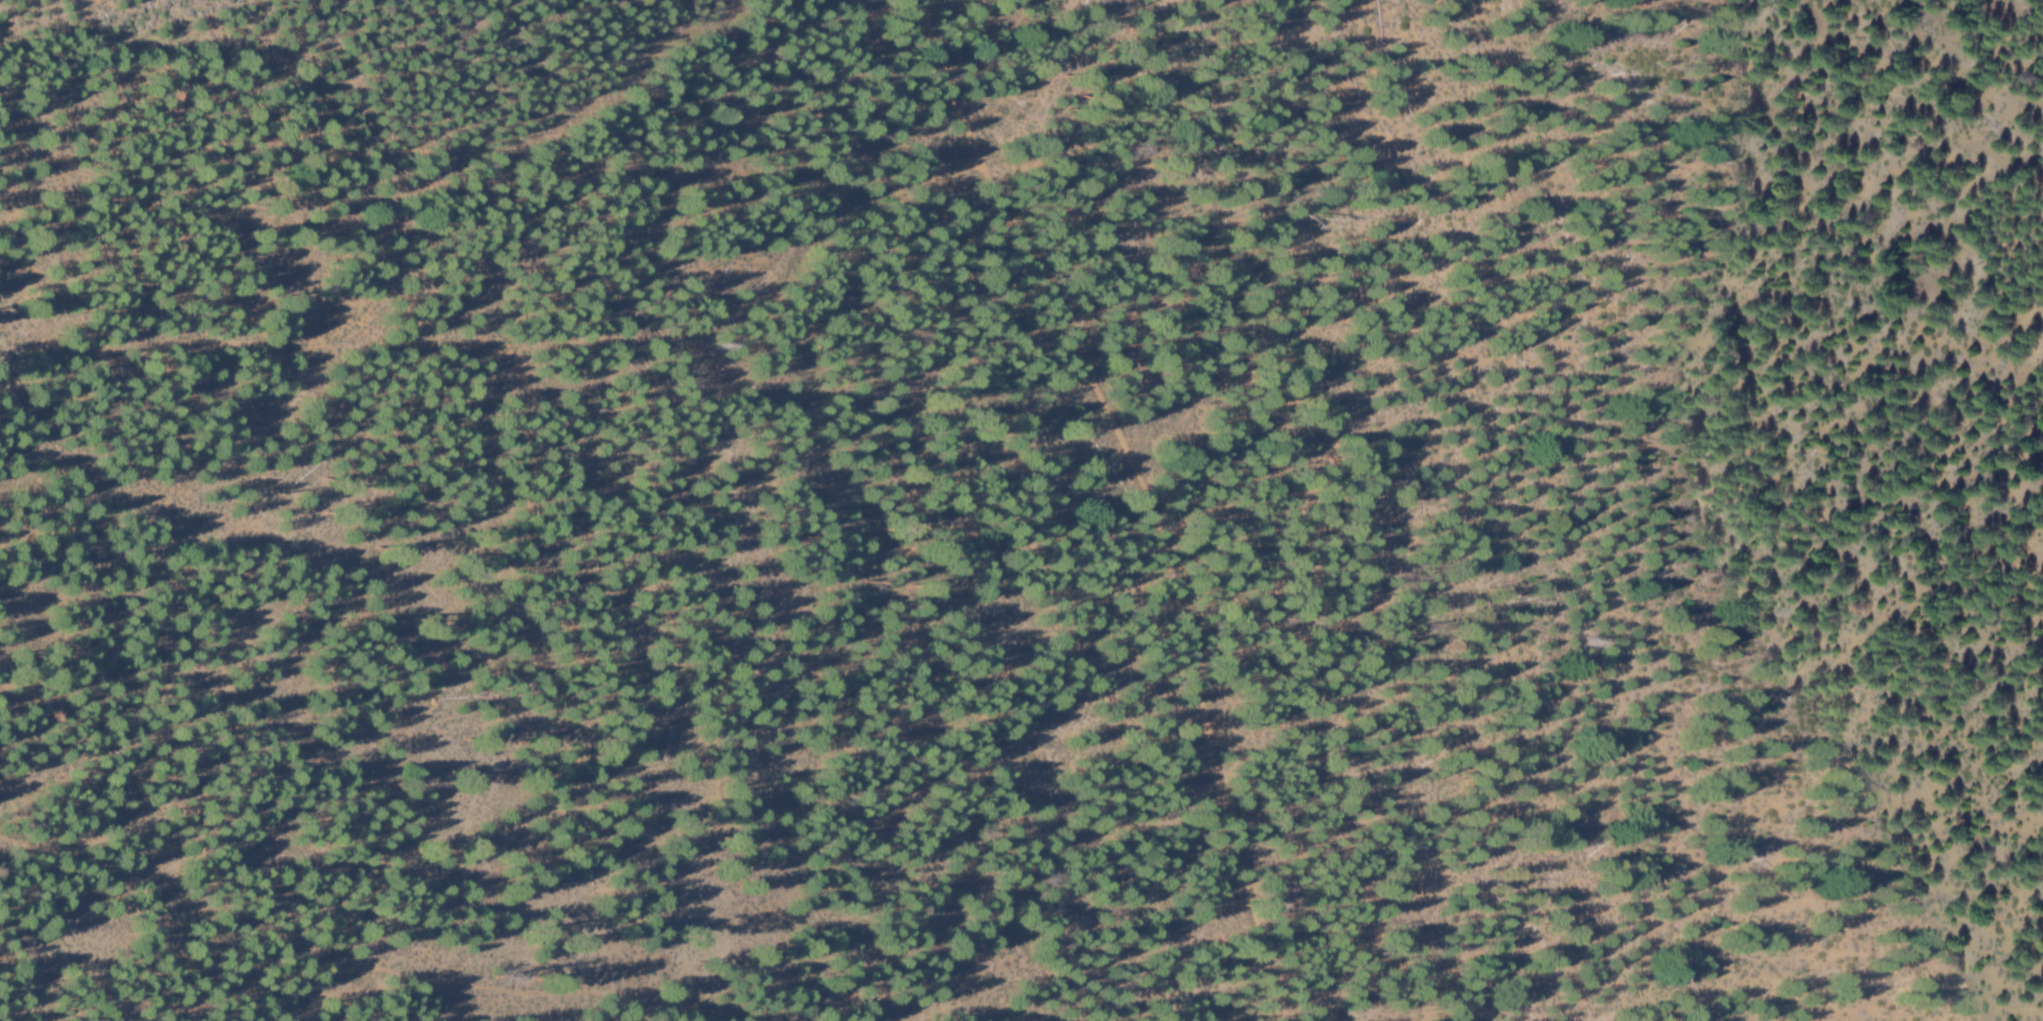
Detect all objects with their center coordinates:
road: (1137, 503)

